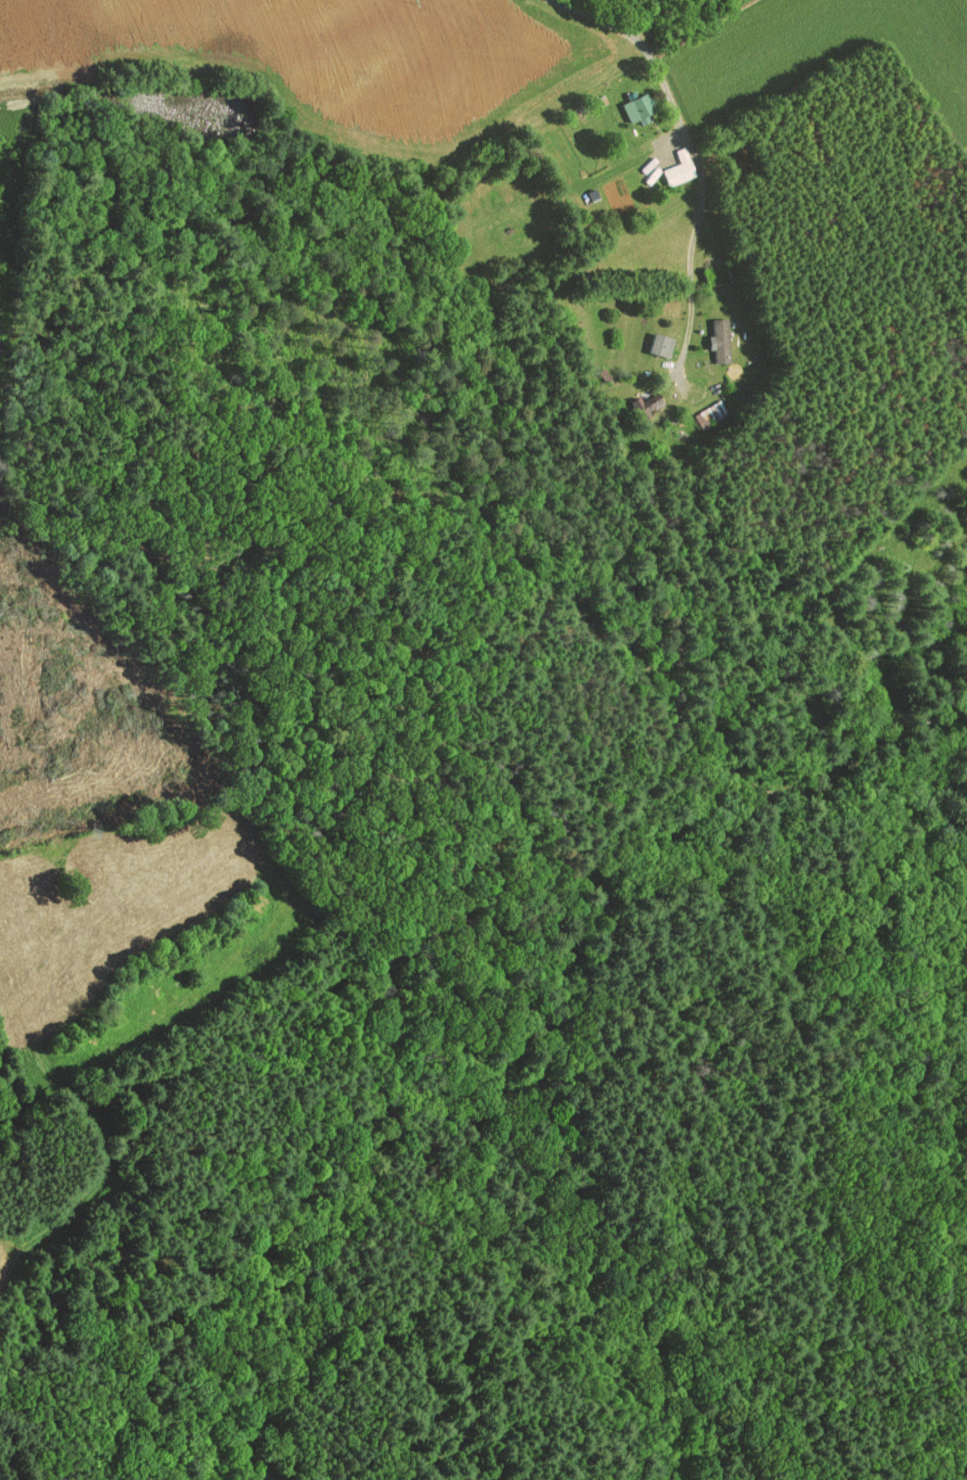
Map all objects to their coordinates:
road: (694, 155)

